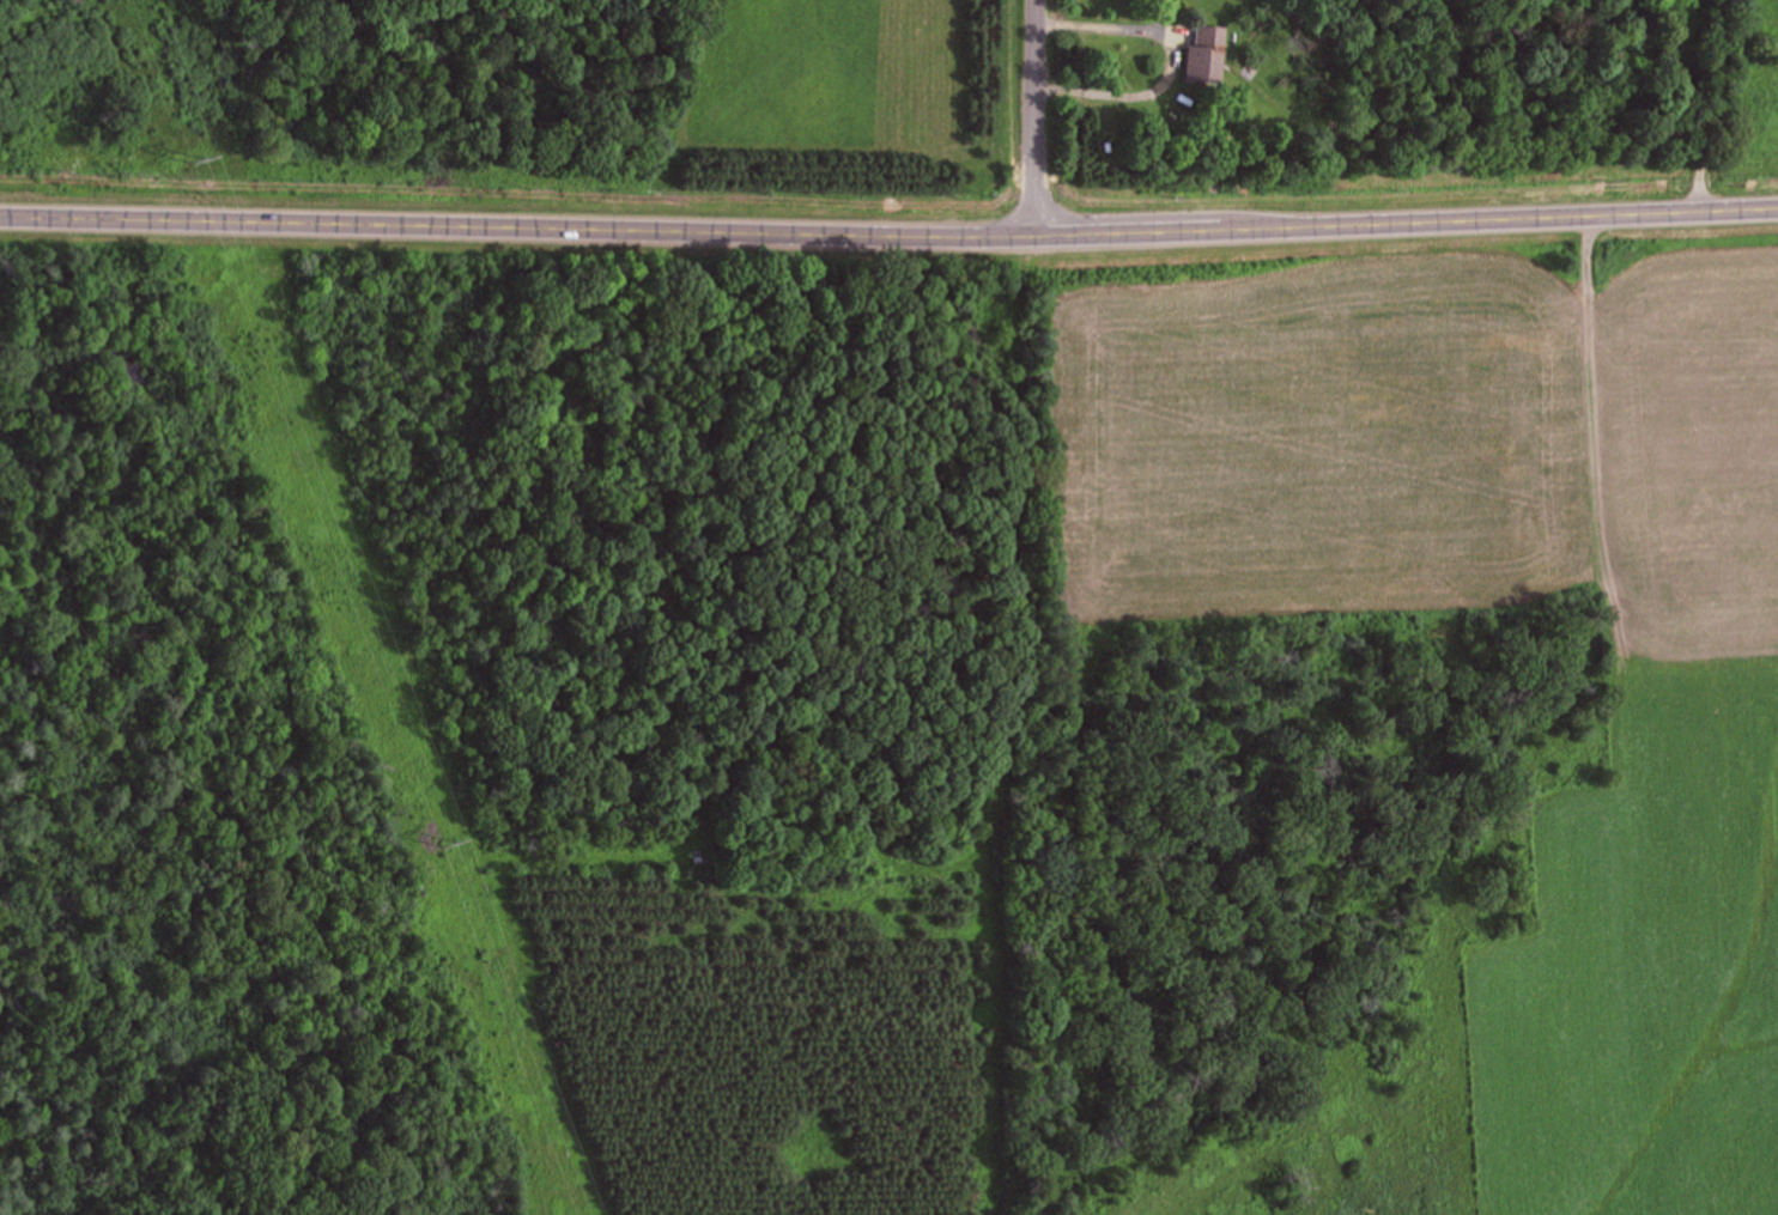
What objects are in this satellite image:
building: (1203, 55)
road: (1676, 104)
road: (1022, 116)
power tower: (198, 159)
road: (888, 227)
power tower: (450, 844)

